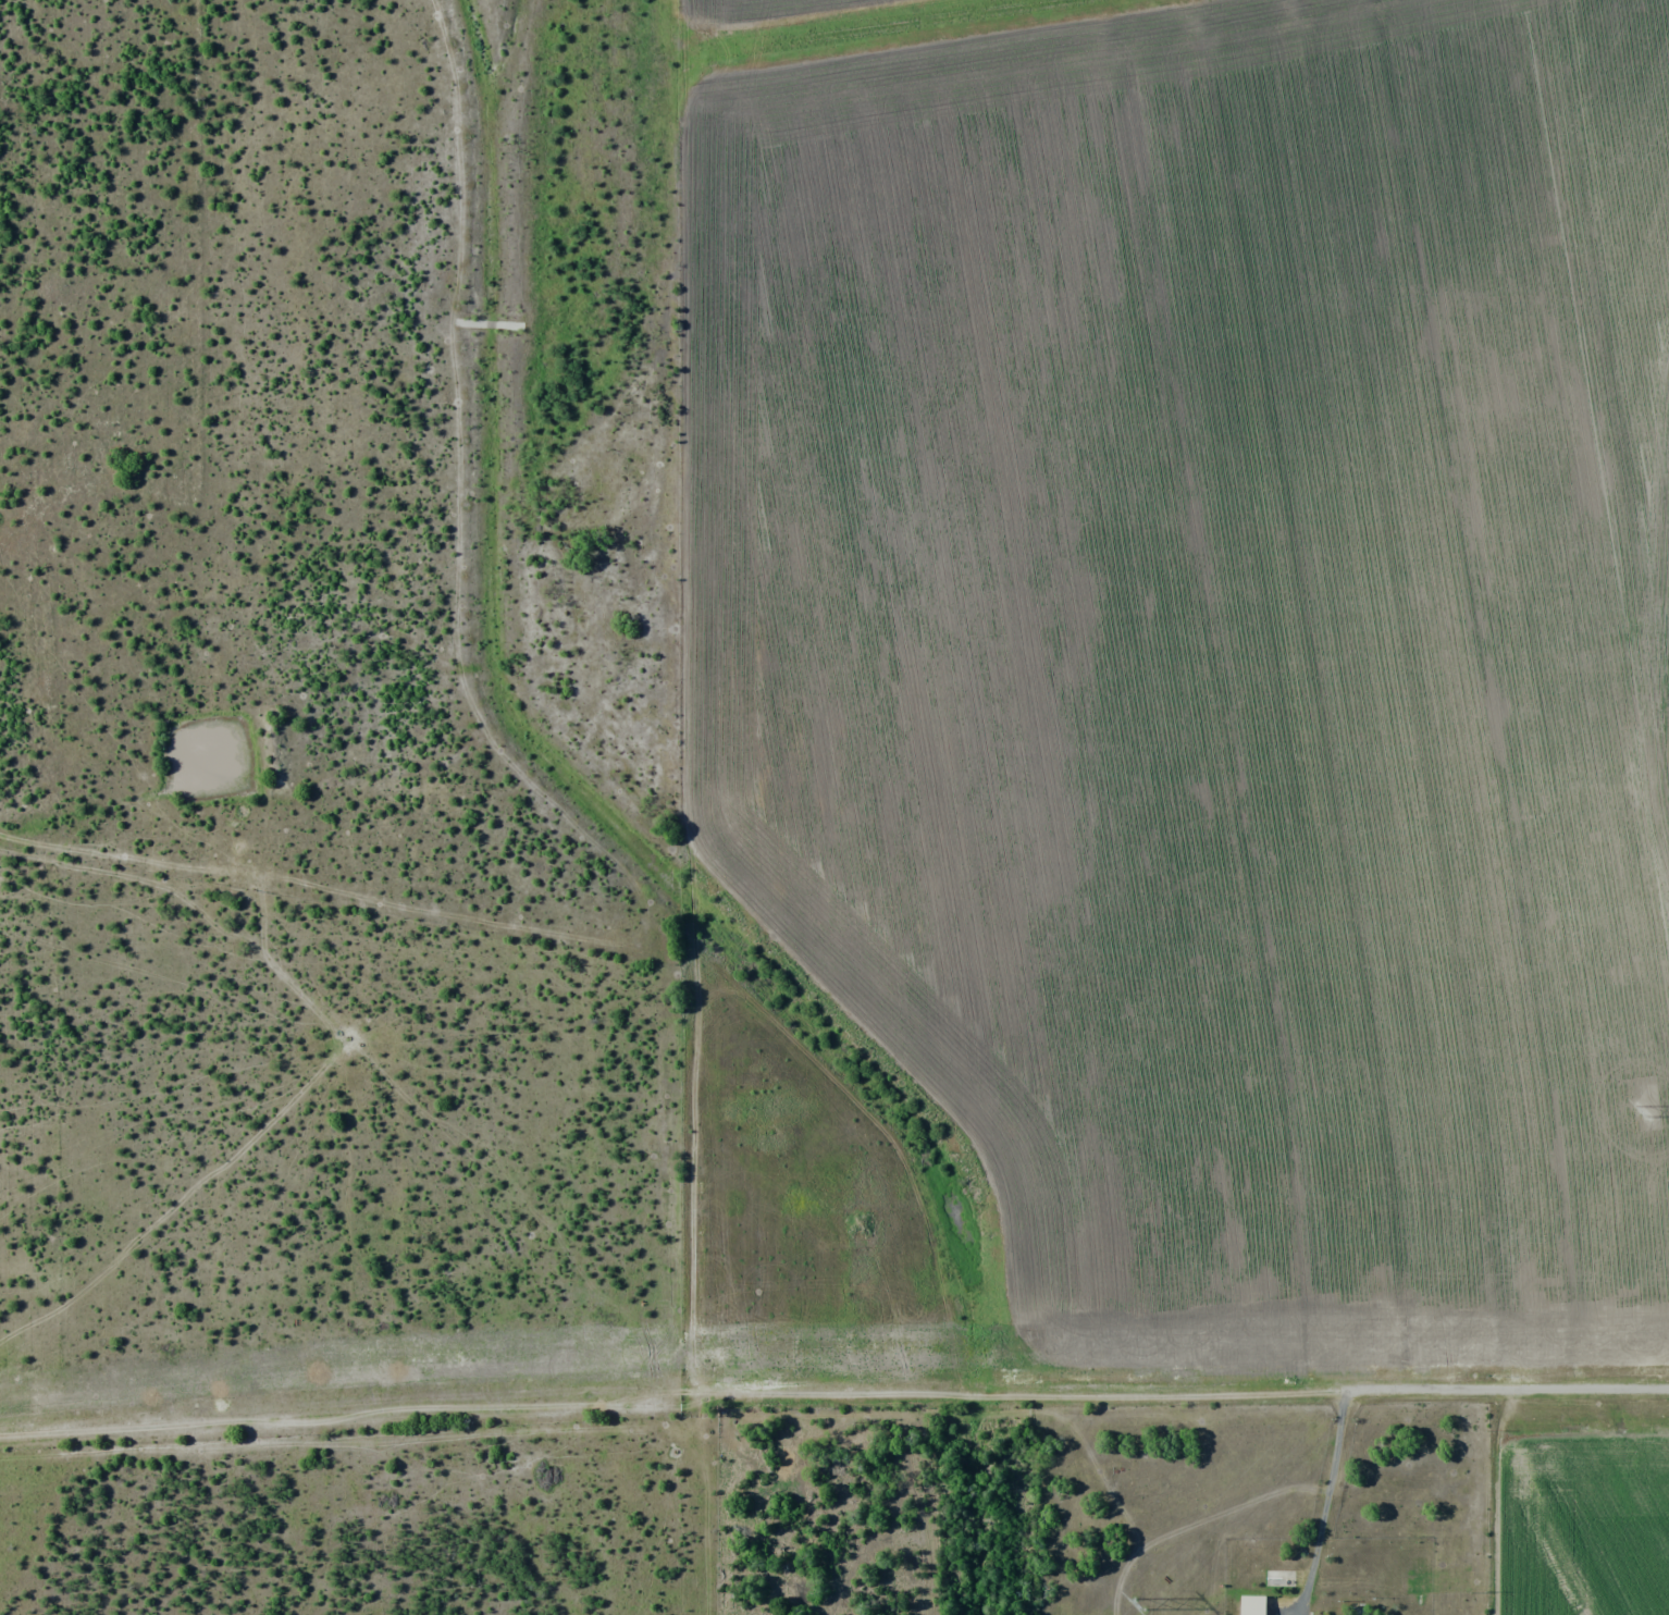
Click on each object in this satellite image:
power tower: (1644, 1110)
road: (1393, 1390)
power tower: (1140, 1601)
building: (1250, 1603)

